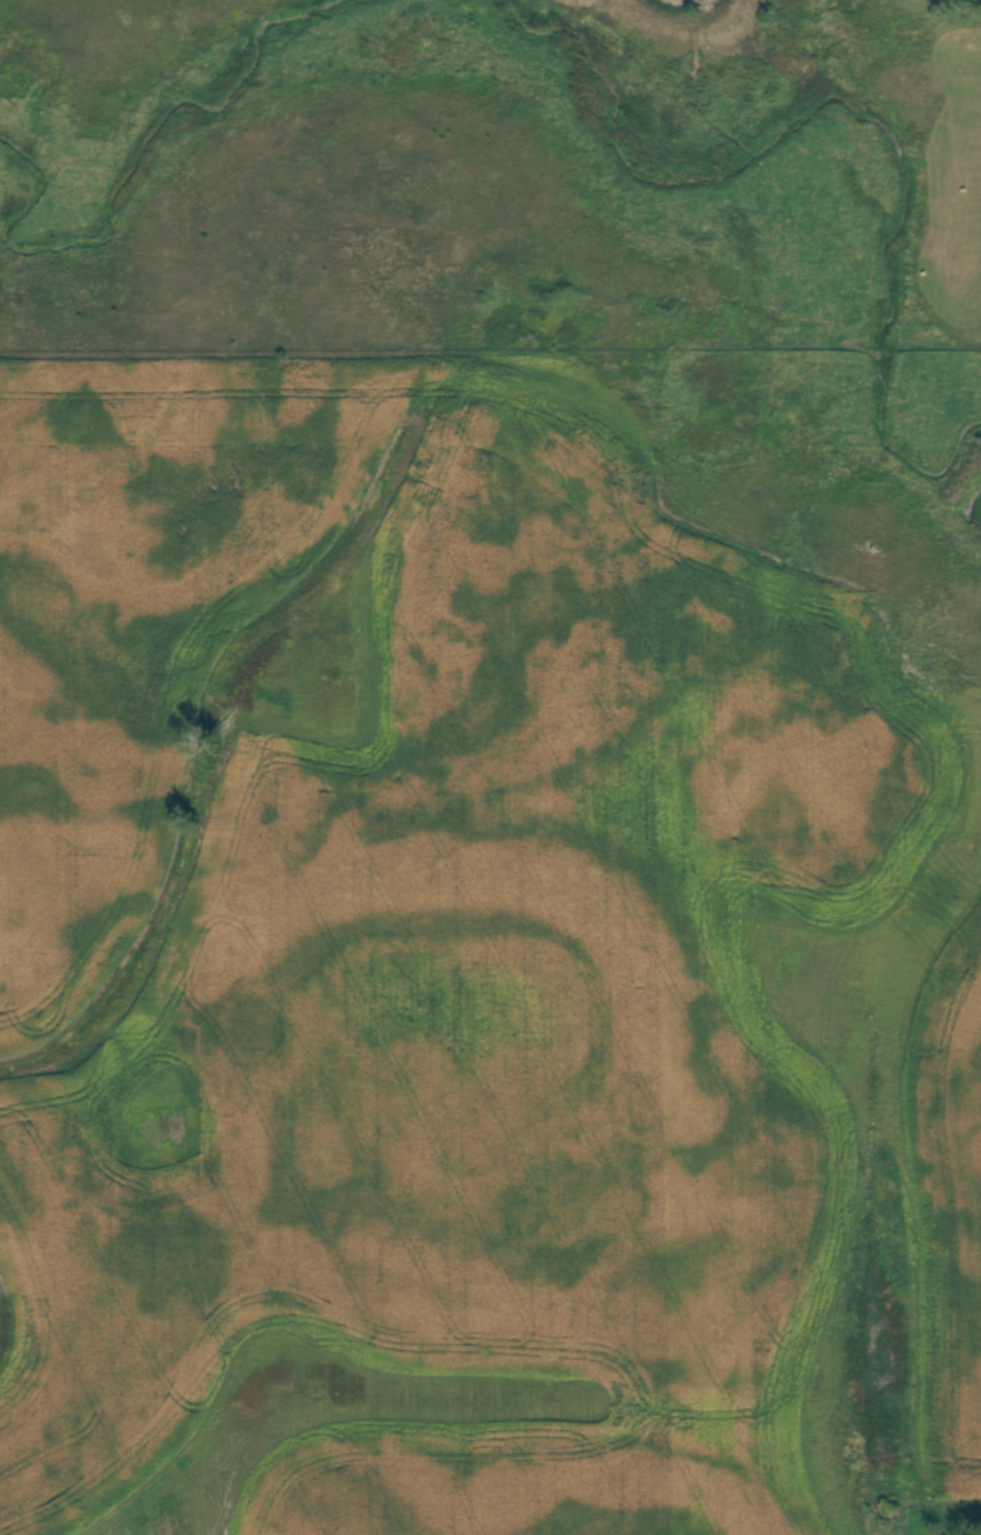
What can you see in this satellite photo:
road: (813, 282)

